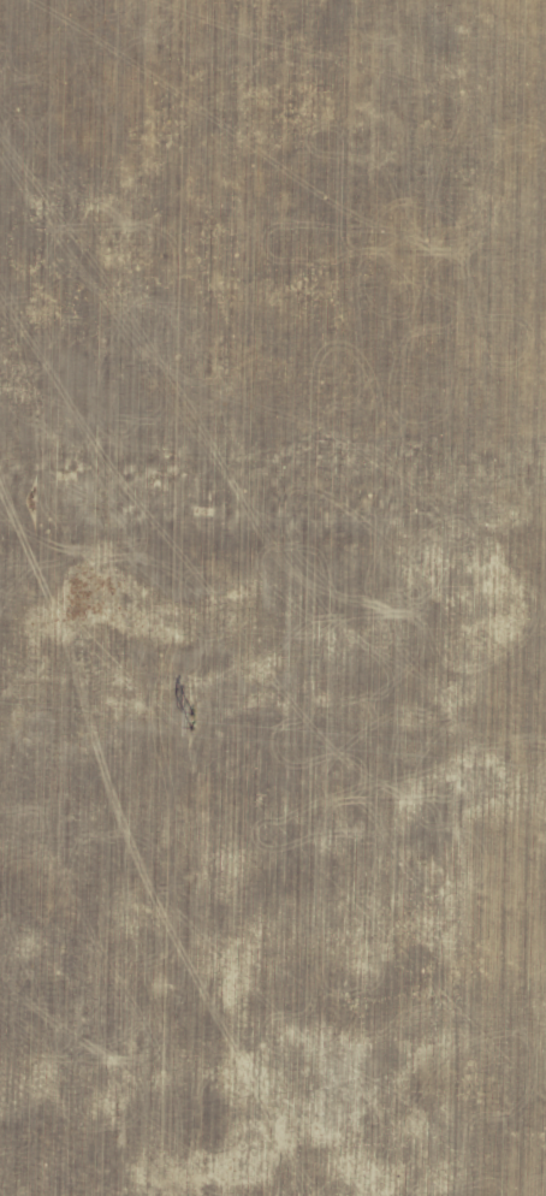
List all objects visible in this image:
power tower: (189, 720)

